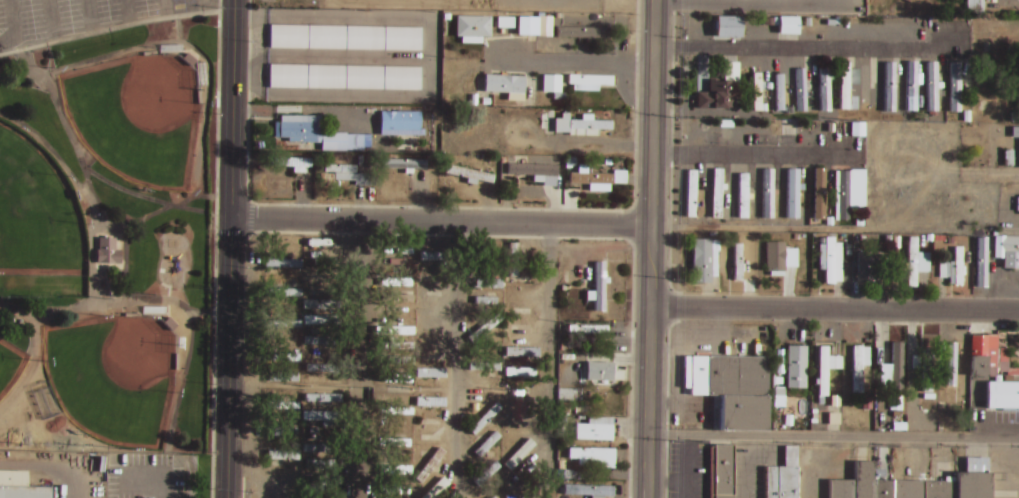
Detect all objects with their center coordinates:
road: (750, 6)
building: (972, 7)
parking lot: (78, 16)
building: (505, 23)
building: (789, 26)
building: (729, 27)
building: (528, 28)
building: (473, 29)
building: (596, 32)
building: (576, 34)
building: (344, 38)
road: (578, 65)
building: (343, 78)
building: (590, 81)
building: (911, 81)
building: (958, 82)
building: (552, 84)
building: (506, 86)
building: (845, 87)
building: (933, 87)
building: (802, 88)
building: (890, 88)
building: (867, 89)
building: (825, 90)
building: (757, 92)
building: (780, 93)
building: (719, 96)
building: (790, 99)
building: (1017, 107)
building: (764, 108)
park: (140, 114)
building: (1015, 118)
building: (398, 124)
building: (573, 124)
building: (298, 127)
building: (1015, 133)
building: (337, 142)
building: (289, 163)
building: (401, 164)
building: (340, 169)
building: (470, 170)
building: (527, 172)
building: (467, 175)
building: (588, 179)
building: (692, 193)
building: (717, 193)
building: (769, 194)
building: (742, 197)
building: (794, 197)
building: (819, 199)
building: (845, 199)
building: (1018, 205)
park: (35, 214)
road: (440, 223)
building: (858, 223)
park: (108, 247)
road: (229, 249)
road: (650, 249)
building: (1006, 251)
building: (106, 253)
building: (397, 253)
building: (324, 256)
building: (432, 257)
building: (514, 261)
building: (832, 261)
building: (704, 262)
building: (738, 262)
building: (776, 262)
building: (916, 263)
building: (282, 264)
building: (980, 264)
building: (868, 268)
building: (957, 269)
building: (317, 273)
building: (433, 281)
building: (393, 283)
building: (487, 284)
building: (326, 288)
building: (523, 289)
building: (600, 291)
building: (283, 293)
building: (398, 299)
building: (486, 301)
building: (316, 305)
building: (523, 307)
road: (834, 310)
building: (325, 321)
building: (282, 325)
building: (485, 328)
building: (588, 330)
building: (400, 331)
building: (518, 331)
building: (323, 342)
building: (519, 354)
building: (981, 355)
building: (282, 358)
road: (359, 360)
road: (459, 361)
road: (545, 361)
building: (402, 363)
park: (10, 365)
building: (857, 367)
building: (485, 368)
building: (794, 368)
building: (321, 369)
building: (927, 370)
building: (891, 371)
building: (602, 372)
building: (825, 372)
building: (520, 373)
park: (115, 374)
building: (431, 374)
building: (951, 374)
building: (283, 377)
building: (397, 380)
building: (731, 389)
building: (570, 395)
building: (930, 397)
building: (323, 399)
building: (836, 402)
building: (430, 403)
building: (868, 405)
building: (897, 405)
building: (284, 407)
building: (397, 412)
building: (322, 417)
building: (485, 420)
building: (835, 420)
building: (520, 427)
building: (596, 430)
building: (282, 433)
building: (428, 435)
building: (394, 444)
building: (487, 445)
building: (318, 450)
building: (521, 450)
building: (282, 456)
building: (593, 459)
building: (320, 466)
building: (430, 466)
building: (395, 472)
building: (719, 472)
building: (487, 475)
building: (520, 477)
building: (781, 477)
building: (321, 482)
building: (913, 484)
building: (19, 486)
building: (438, 489)
building: (395, 491)
building: (281, 492)
building: (595, 492)
building: (493, 497)

